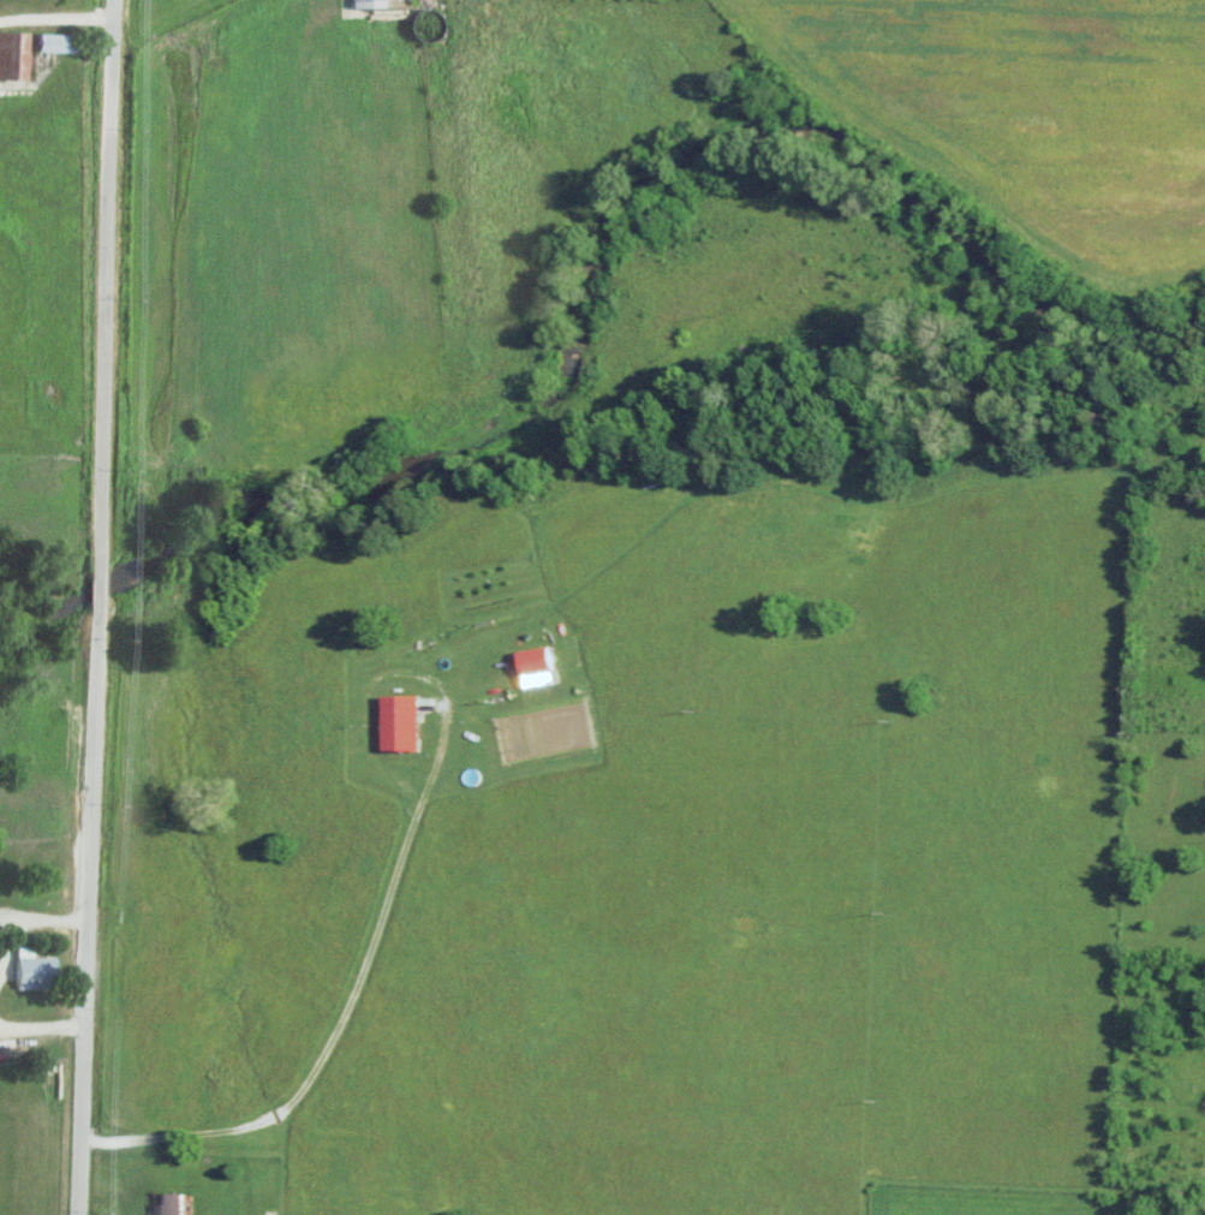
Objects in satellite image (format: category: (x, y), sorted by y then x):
building: (368, 4)
road: (59, 20)
building: (55, 42)
building: (12, 55)
road: (100, 607)
building: (34, 970)
road: (335, 1016)
building: (4, 1050)
building: (168, 1203)

